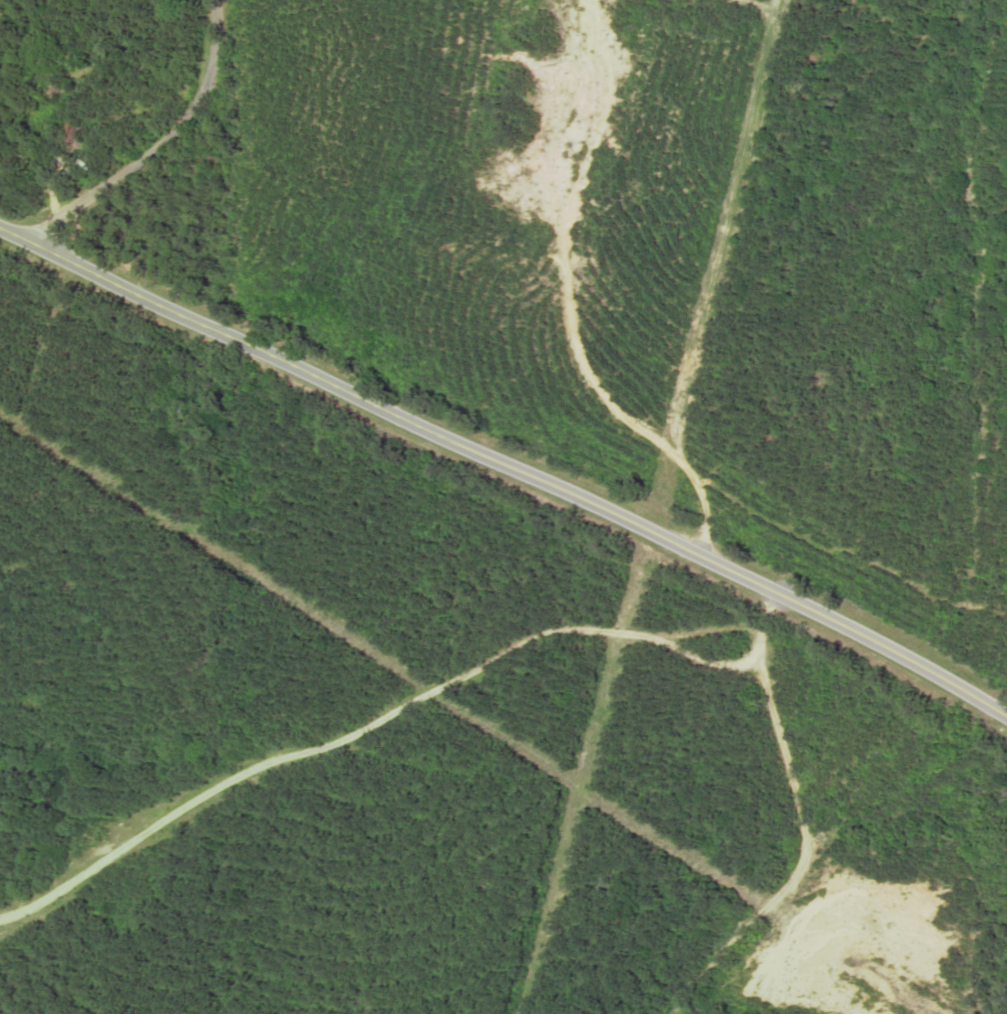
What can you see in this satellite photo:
building: (71, 135)
road: (157, 145)
road: (507, 469)

